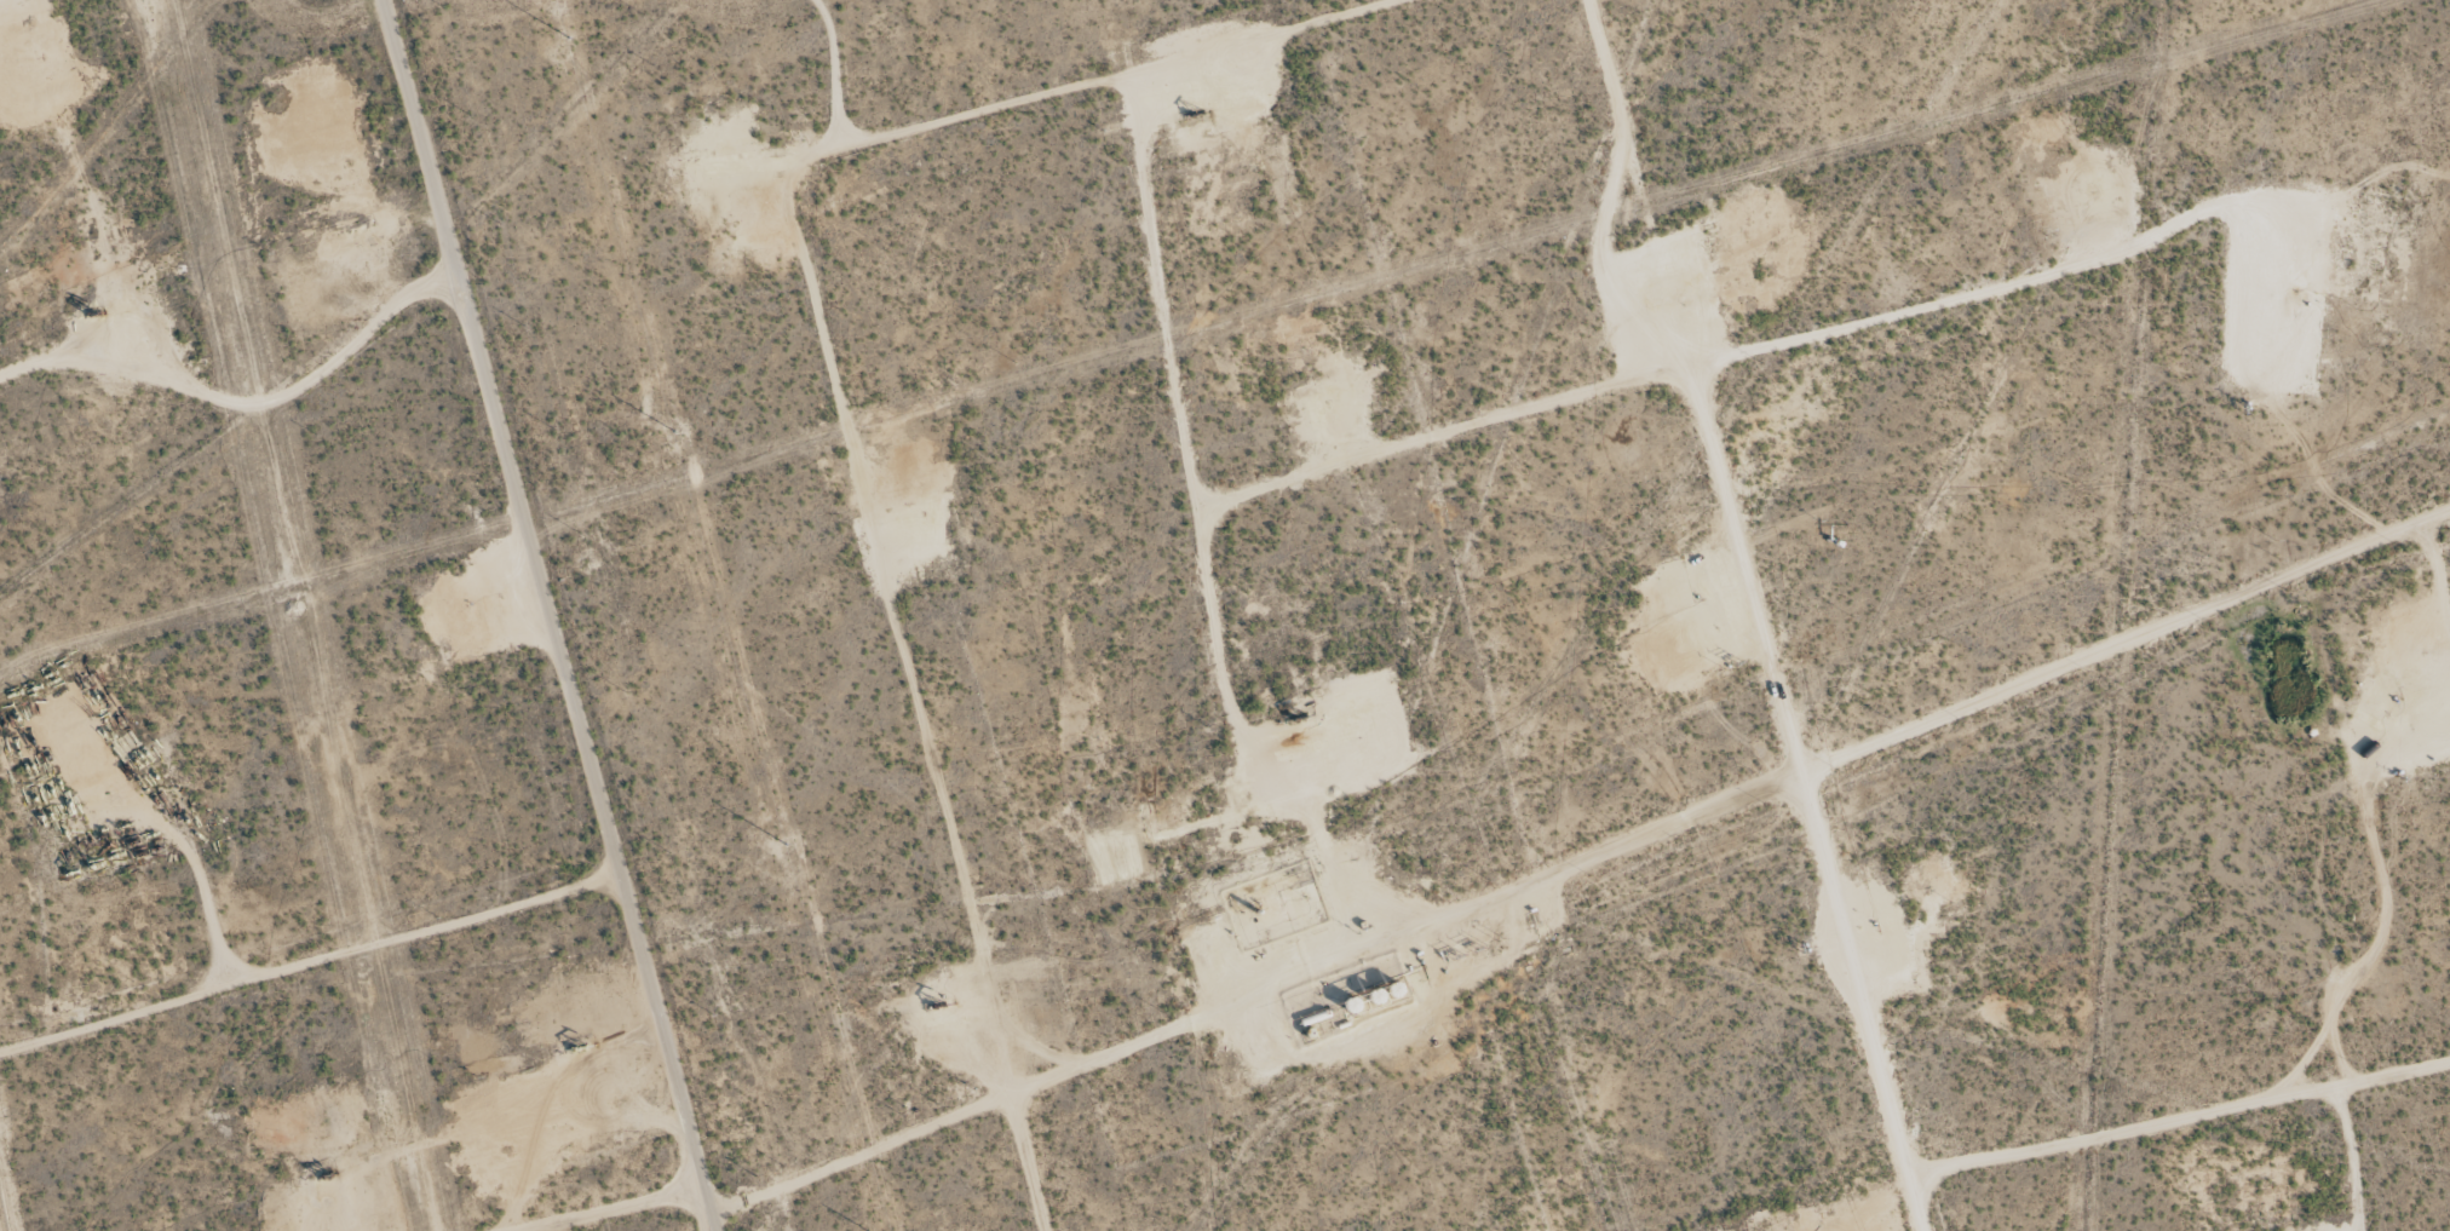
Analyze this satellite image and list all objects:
power tower: (552, 11)
power tower: (671, 443)
road: (550, 615)
power tower: (786, 876)

